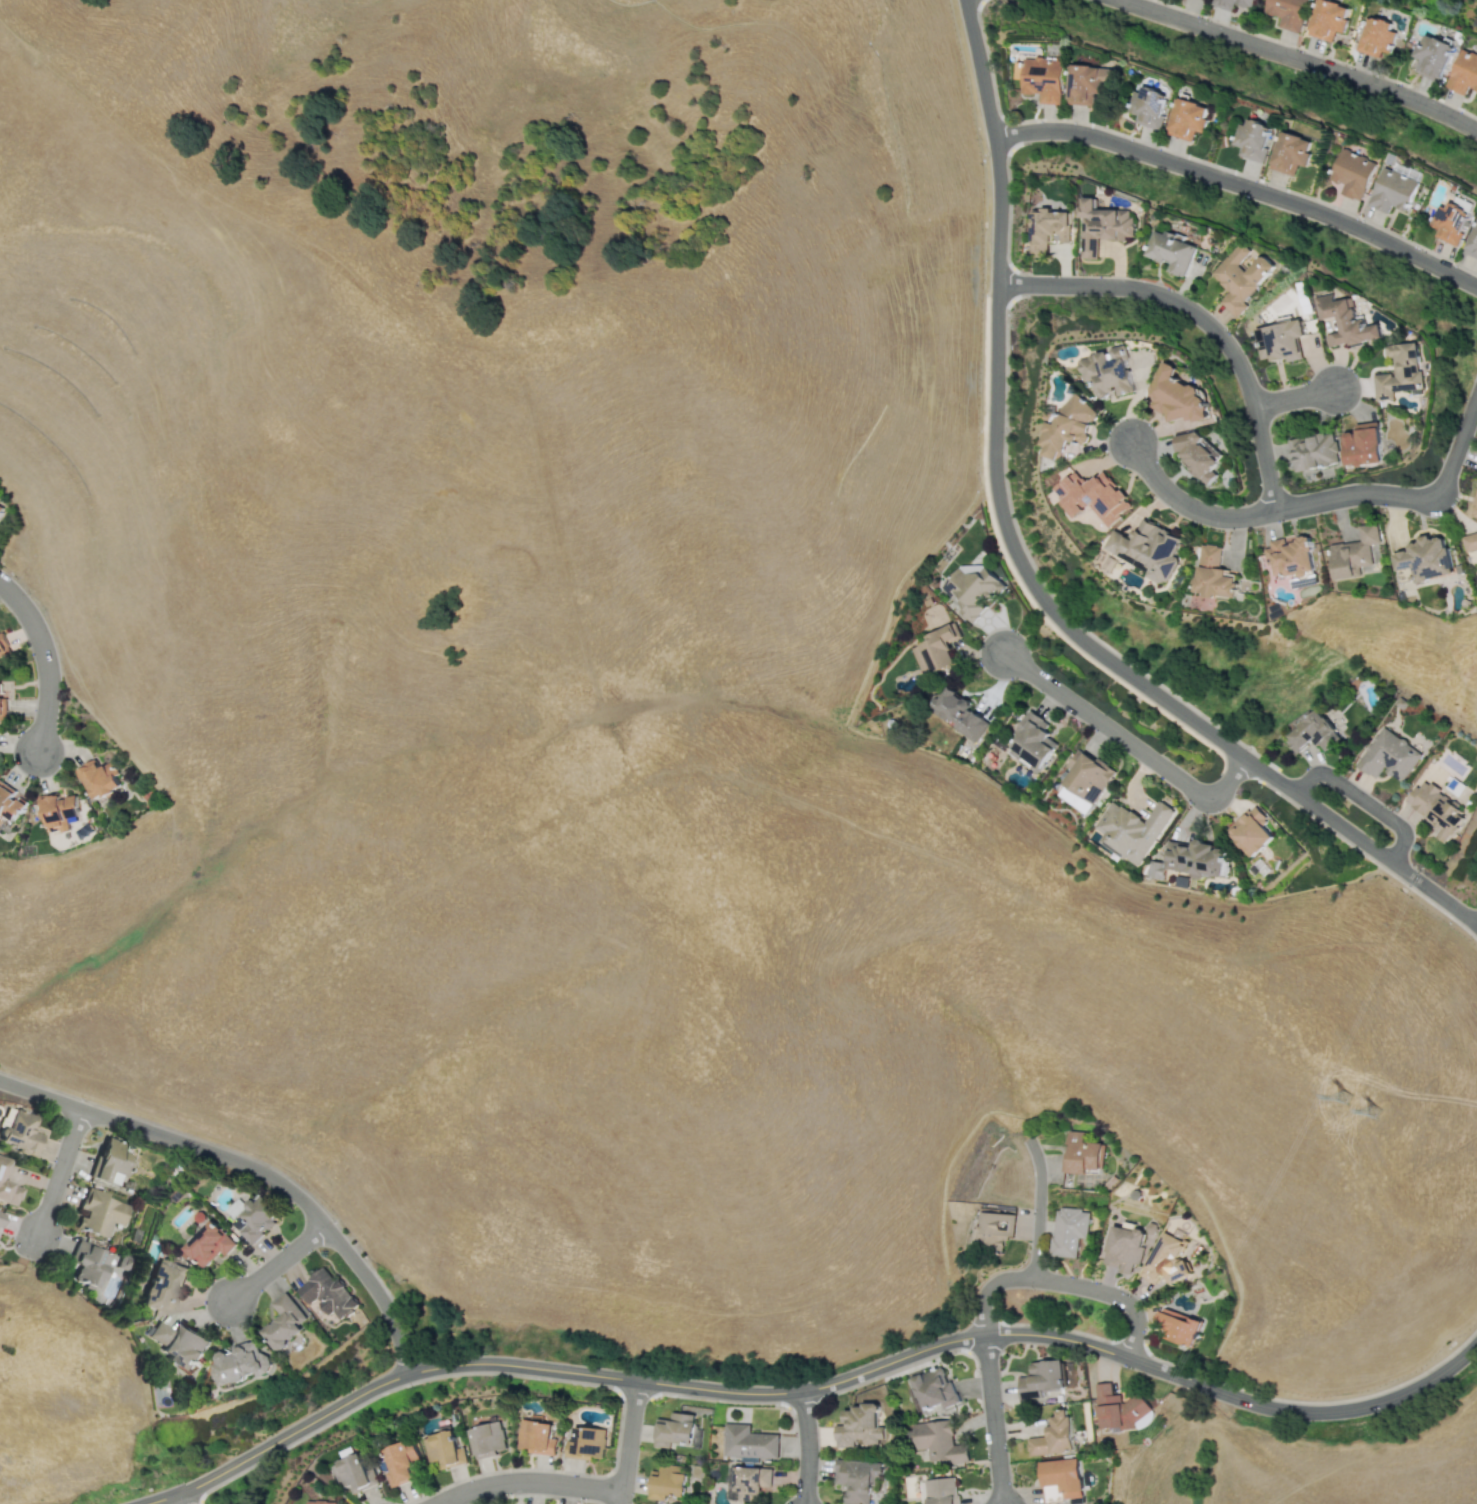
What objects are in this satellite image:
building: (1233, 3)
building: (1288, 12)
building: (1328, 19)
building: (1375, 36)
building: (1432, 56)
road: (1301, 60)
building: (1464, 72)
building: (1040, 78)
building: (1089, 83)
building: (1150, 106)
building: (1188, 118)
building: (1251, 139)
building: (1289, 153)
building: (1353, 173)
road: (1240, 186)
building: (1393, 190)
building: (1450, 222)
building: (1100, 226)
building: (1047, 230)
building: (1472, 243)
building: (1171, 251)
building: (1242, 277)
road: (1200, 318)
building: (1345, 321)
building: (1282, 340)
building: (1105, 371)
building: (1400, 371)
road: (1475, 395)
building: (1177, 396)
road: (1294, 397)
building: (1068, 426)
building: (1363, 444)
road: (992, 447)
building: (1313, 451)
building: (1199, 453)
building: (1091, 495)
road: (1405, 497)
road: (1187, 507)
building: (1476, 511)
building: (0, 514)
building: (1469, 541)
building: (1146, 548)
building: (1352, 552)
building: (1288, 557)
building: (1424, 557)
building: (1211, 573)
building: (970, 587)
building: (3, 645)
building: (935, 650)
road: (43, 660)
building: (3, 708)
building: (956, 713)
building: (1310, 733)
road: (1126, 741)
building: (1031, 742)
building: (1388, 756)
building: (1086, 775)
building: (98, 778)
road: (1362, 800)
building: (8, 803)
building: (1437, 809)
building: (59, 812)
building: (1131, 829)
building: (1250, 831)
road: (1373, 849)
building: (1188, 859)
power tower: (1344, 1094)
power tower: (1376, 1109)
building: (20, 1133)
building: (1080, 1154)
building: (111, 1160)
building: (2, 1165)
road: (250, 1168)
road: (59, 1172)
building: (9, 1193)
road: (1037, 1206)
building: (99, 1212)
building: (1, 1217)
building: (253, 1219)
building: (991, 1231)
building: (1066, 1231)
building: (207, 1243)
building: (1122, 1247)
building: (1163, 1259)
building: (90, 1263)
road: (275, 1263)
road: (1063, 1282)
building: (163, 1284)
building: (327, 1293)
building: (284, 1321)
building: (1178, 1327)
building: (178, 1343)
building: (238, 1363)
road: (554, 1369)
building: (1042, 1375)
building: (931, 1389)
road: (1235, 1397)
building: (1116, 1407)
road: (993, 1419)
building: (859, 1426)
building: (675, 1430)
building: (1053, 1436)
building: (536, 1437)
building: (486, 1439)
road: (628, 1441)
building: (938, 1441)
building: (748, 1442)
building: (585, 1443)
road: (806, 1447)
building: (443, 1449)
building: (399, 1461)
building: (350, 1472)
building: (856, 1478)
building: (1061, 1479)
road: (526, 1481)
building: (667, 1481)
building: (750, 1481)
building: (940, 1490)
road: (183, 1498)
building: (320, 1502)

